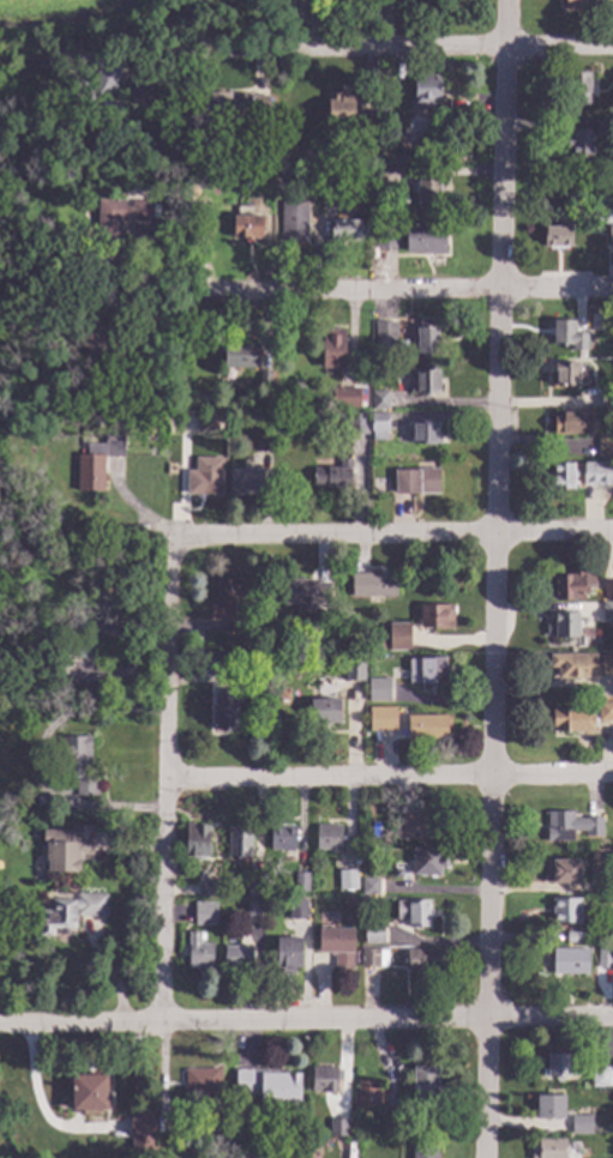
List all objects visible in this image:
building: (318, 0)
building: (289, 2)
building: (589, 2)
road: (389, 52)
building: (577, 88)
building: (425, 90)
building: (98, 95)
building: (235, 104)
building: (383, 105)
building: (344, 107)
building: (583, 137)
building: (361, 155)
building: (378, 163)
building: (385, 177)
building: (428, 188)
building: (160, 198)
building: (329, 199)
building: (185, 200)
building: (116, 219)
building: (294, 221)
building: (247, 227)
building: (345, 229)
building: (558, 234)
building: (609, 234)
building: (385, 235)
building: (425, 237)
road: (396, 298)
building: (385, 332)
building: (567, 334)
building: (426, 336)
building: (109, 337)
building: (332, 346)
building: (241, 354)
building: (566, 373)
building: (264, 378)
building: (426, 379)
building: (178, 386)
building: (379, 398)
building: (349, 400)
building: (609, 400)
building: (263, 402)
building: (68, 417)
building: (211, 421)
building: (573, 422)
building: (357, 423)
building: (378, 424)
building: (0, 426)
building: (425, 430)
building: (264, 441)
building: (606, 446)
building: (96, 463)
building: (597, 472)
building: (333, 474)
building: (563, 475)
building: (205, 476)
building: (415, 480)
building: (246, 481)
road: (391, 535)
building: (1, 543)
road: (495, 578)
building: (377, 584)
building: (569, 586)
building: (608, 589)
building: (305, 592)
building: (230, 603)
building: (103, 610)
building: (607, 610)
building: (435, 615)
building: (566, 623)
building: (399, 633)
building: (377, 643)
building: (83, 645)
building: (296, 645)
building: (359, 646)
building: (607, 662)
building: (573, 663)
building: (223, 667)
building: (354, 669)
building: (428, 669)
building: (67, 680)
building: (378, 687)
building: (223, 708)
building: (605, 710)
building: (324, 711)
building: (381, 717)
building: (572, 719)
building: (426, 725)
building: (79, 764)
road: (390, 778)
road: (166, 779)
building: (421, 824)
building: (570, 825)
building: (385, 834)
building: (329, 836)
building: (282, 837)
building: (196, 839)
building: (239, 839)
building: (67, 846)
building: (601, 857)
building: (426, 860)
building: (563, 870)
building: (347, 877)
building: (301, 880)
building: (371, 885)
building: (253, 886)
building: (209, 887)
building: (312, 893)
building: (611, 898)
building: (353, 901)
building: (369, 903)
building: (253, 907)
building: (298, 907)
building: (566, 910)
building: (70, 911)
building: (204, 912)
building: (413, 912)
building: (373, 933)
building: (575, 936)
building: (336, 945)
building: (287, 953)
building: (199, 954)
building: (603, 955)
building: (238, 957)
building: (374, 957)
building: (425, 959)
building: (570, 960)
road: (306, 1021)
building: (558, 1064)
building: (601, 1075)
building: (325, 1078)
building: (202, 1080)
building: (269, 1084)
building: (426, 1085)
building: (88, 1092)
building: (367, 1093)
building: (549, 1108)
building: (391, 1116)
building: (581, 1123)
building: (205, 1126)
building: (338, 1126)
building: (136, 1128)
building: (253, 1145)
building: (312, 1146)
building: (548, 1147)
building: (423, 1150)
building: (252, 1156)

